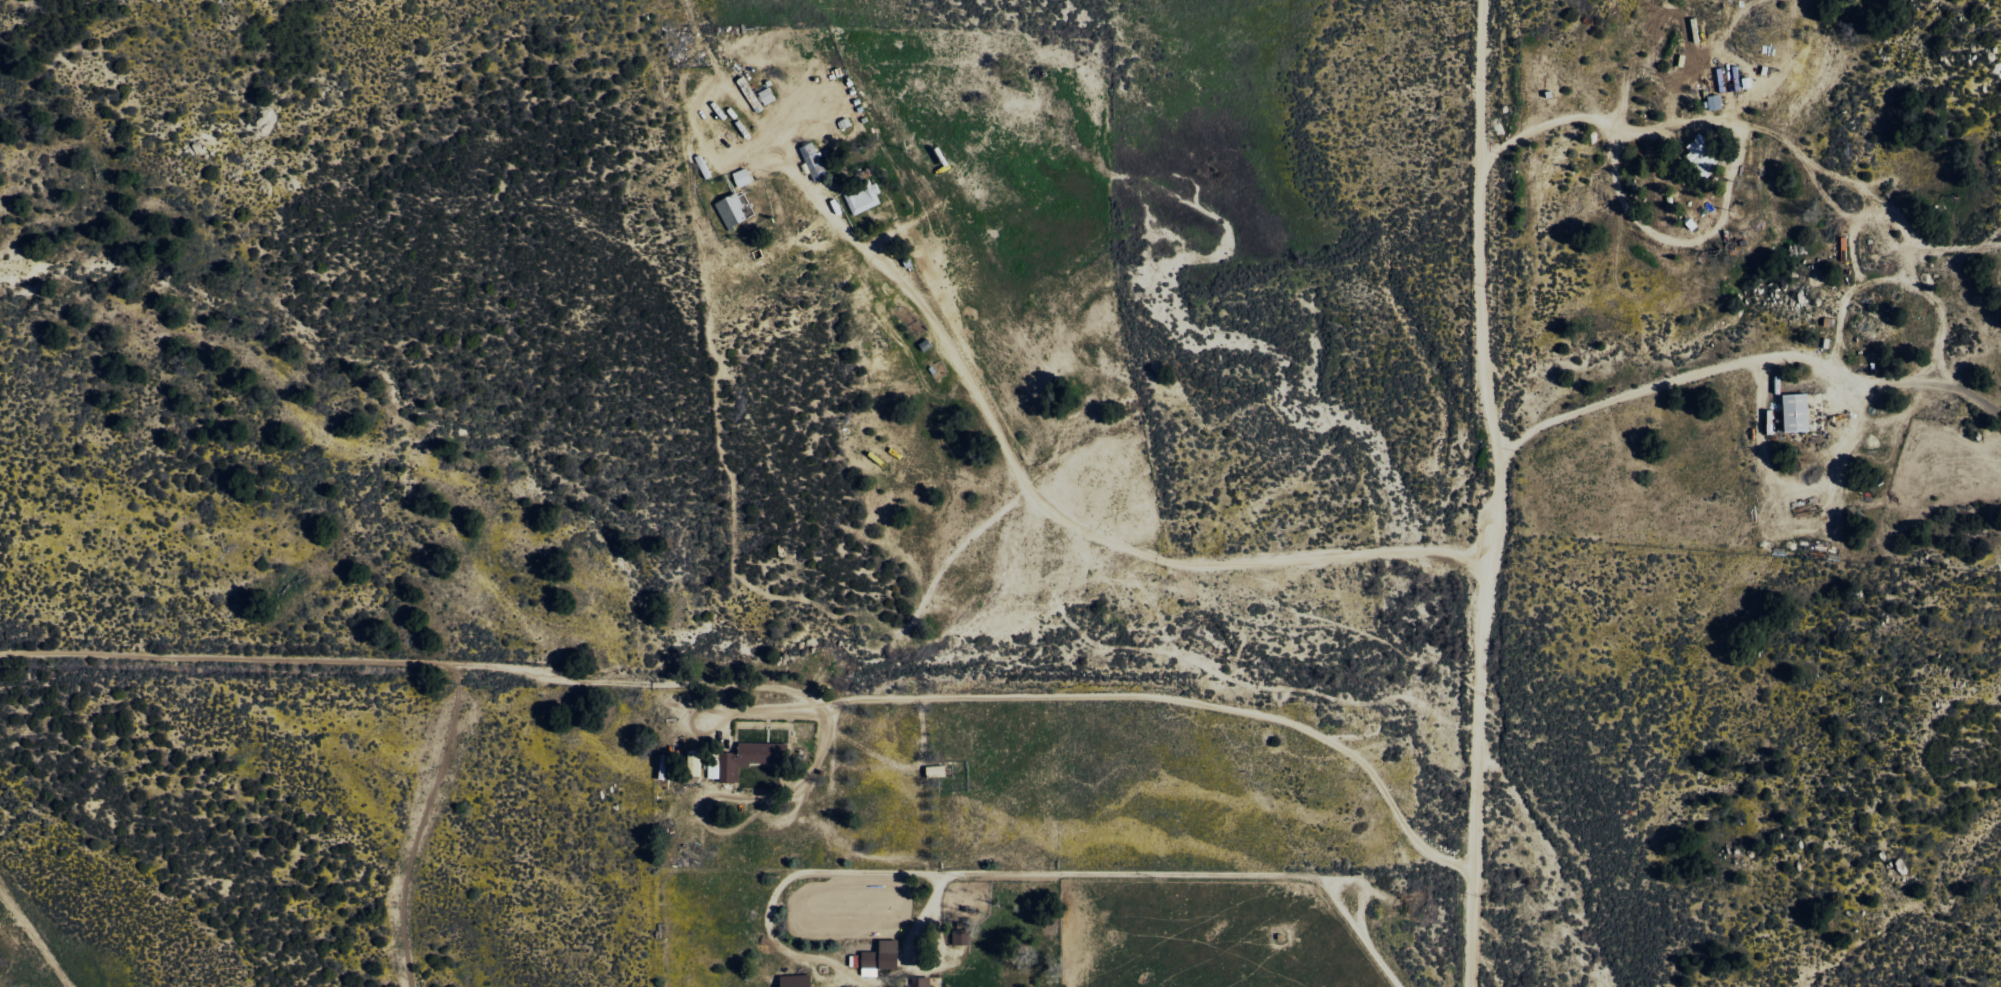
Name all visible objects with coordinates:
building: (1737, 79)
building: (768, 95)
building: (1711, 102)
building: (1696, 156)
building: (815, 162)
building: (743, 177)
building: (865, 198)
building: (733, 211)
building: (1793, 413)
road: (1498, 493)
building: (747, 759)
building: (938, 770)
building: (963, 937)
building: (883, 957)
building: (799, 981)
building: (922, 982)

